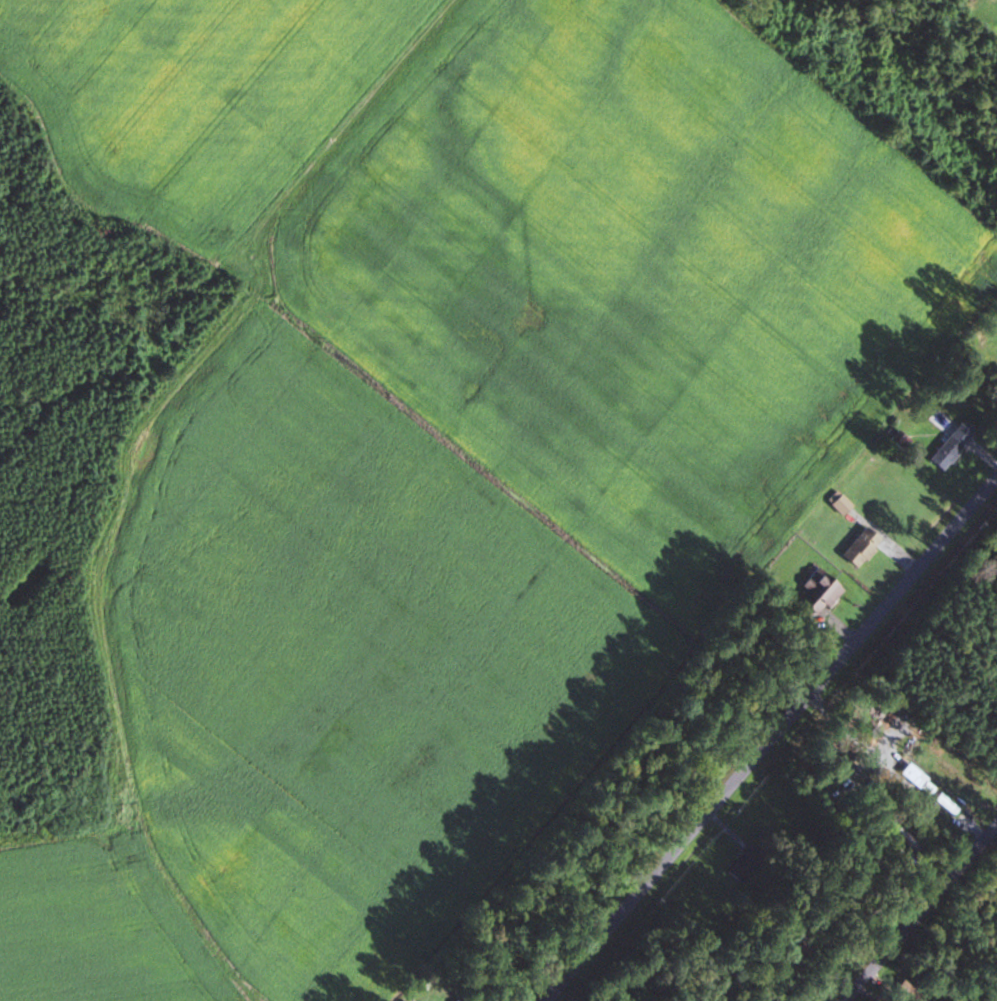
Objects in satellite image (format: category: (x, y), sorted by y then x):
building: (857, 547)
building: (815, 592)
road: (769, 740)
building: (944, 802)
building: (740, 864)
road: (923, 914)

